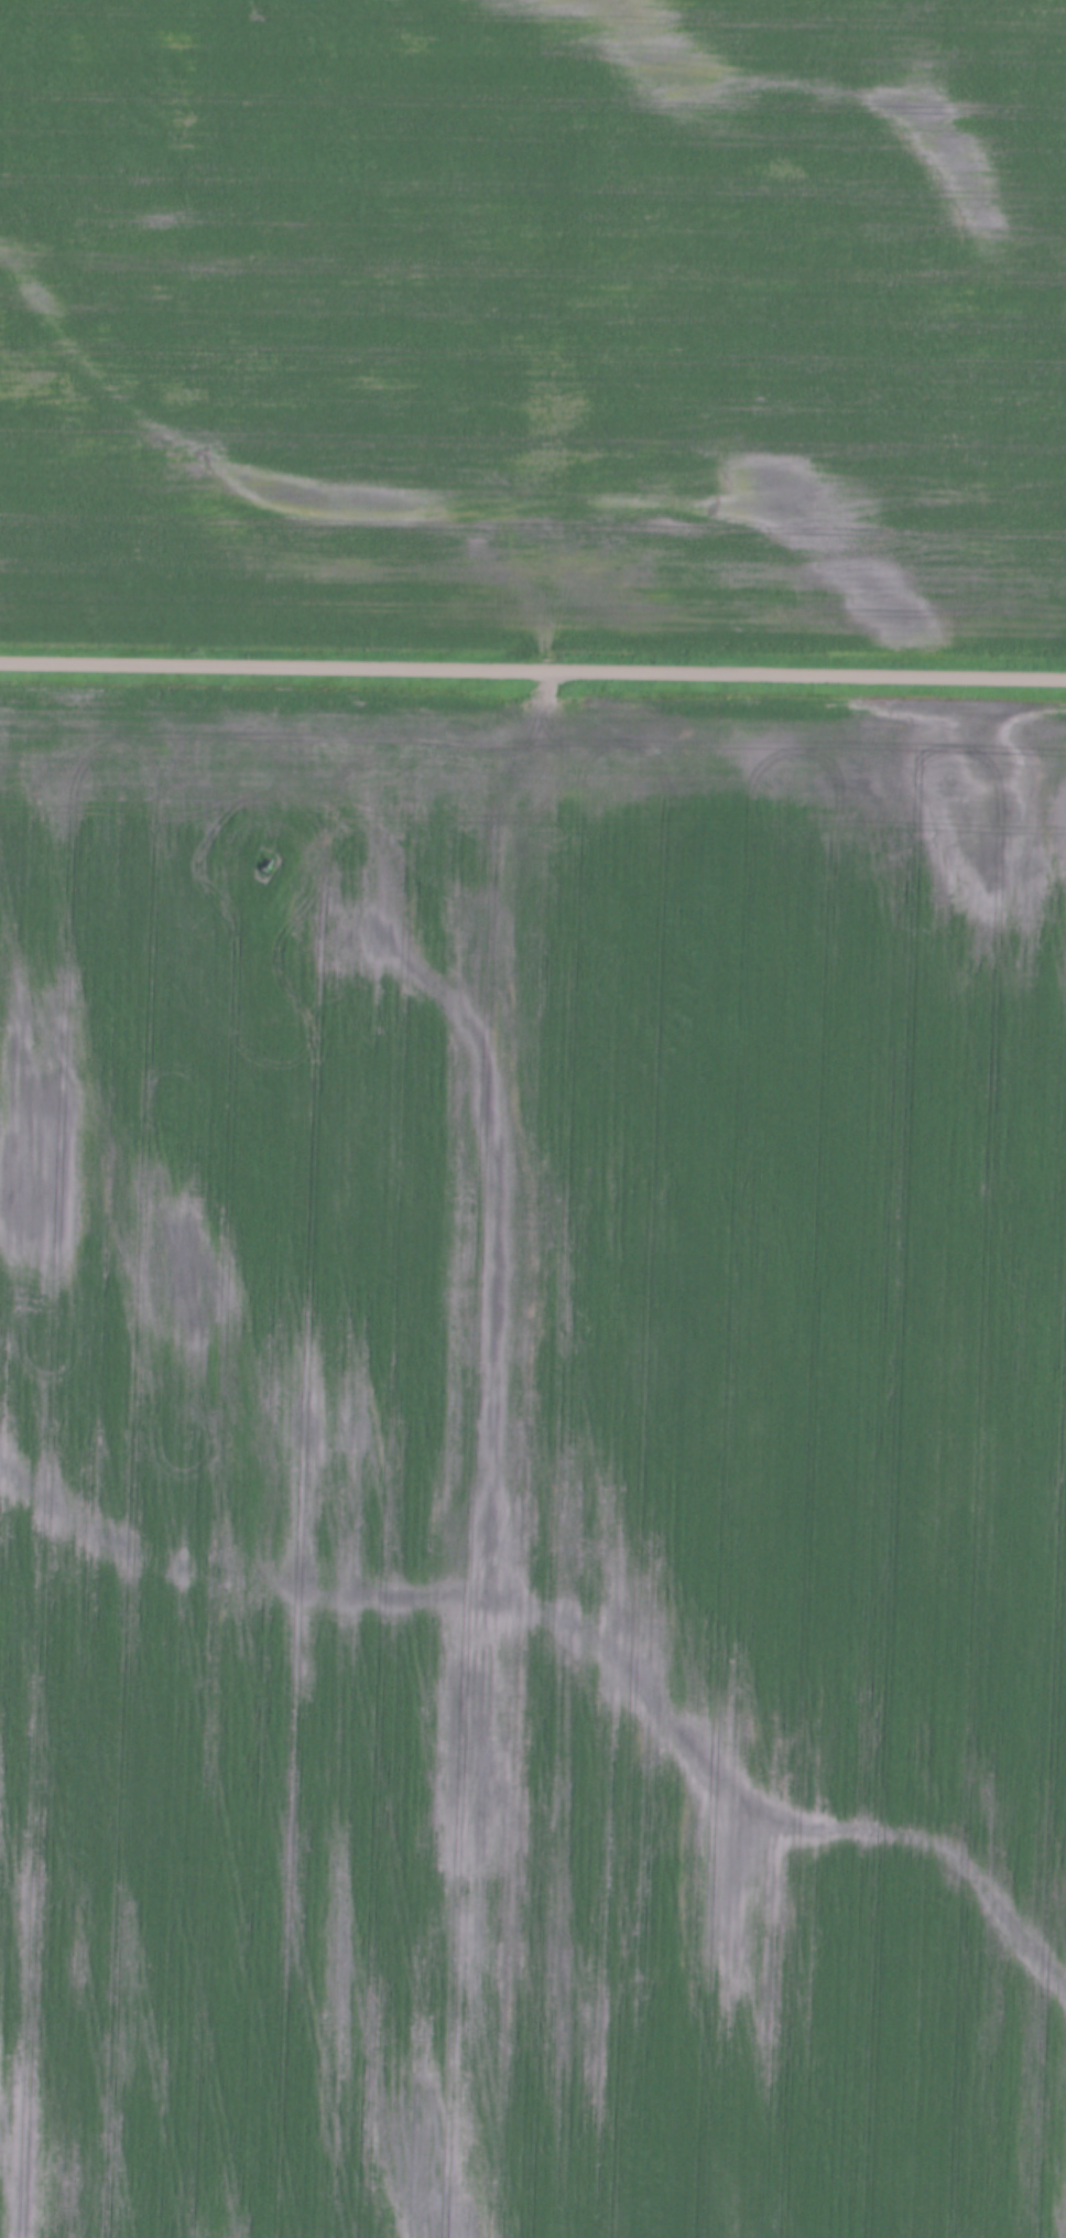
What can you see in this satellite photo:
road: (532, 673)

